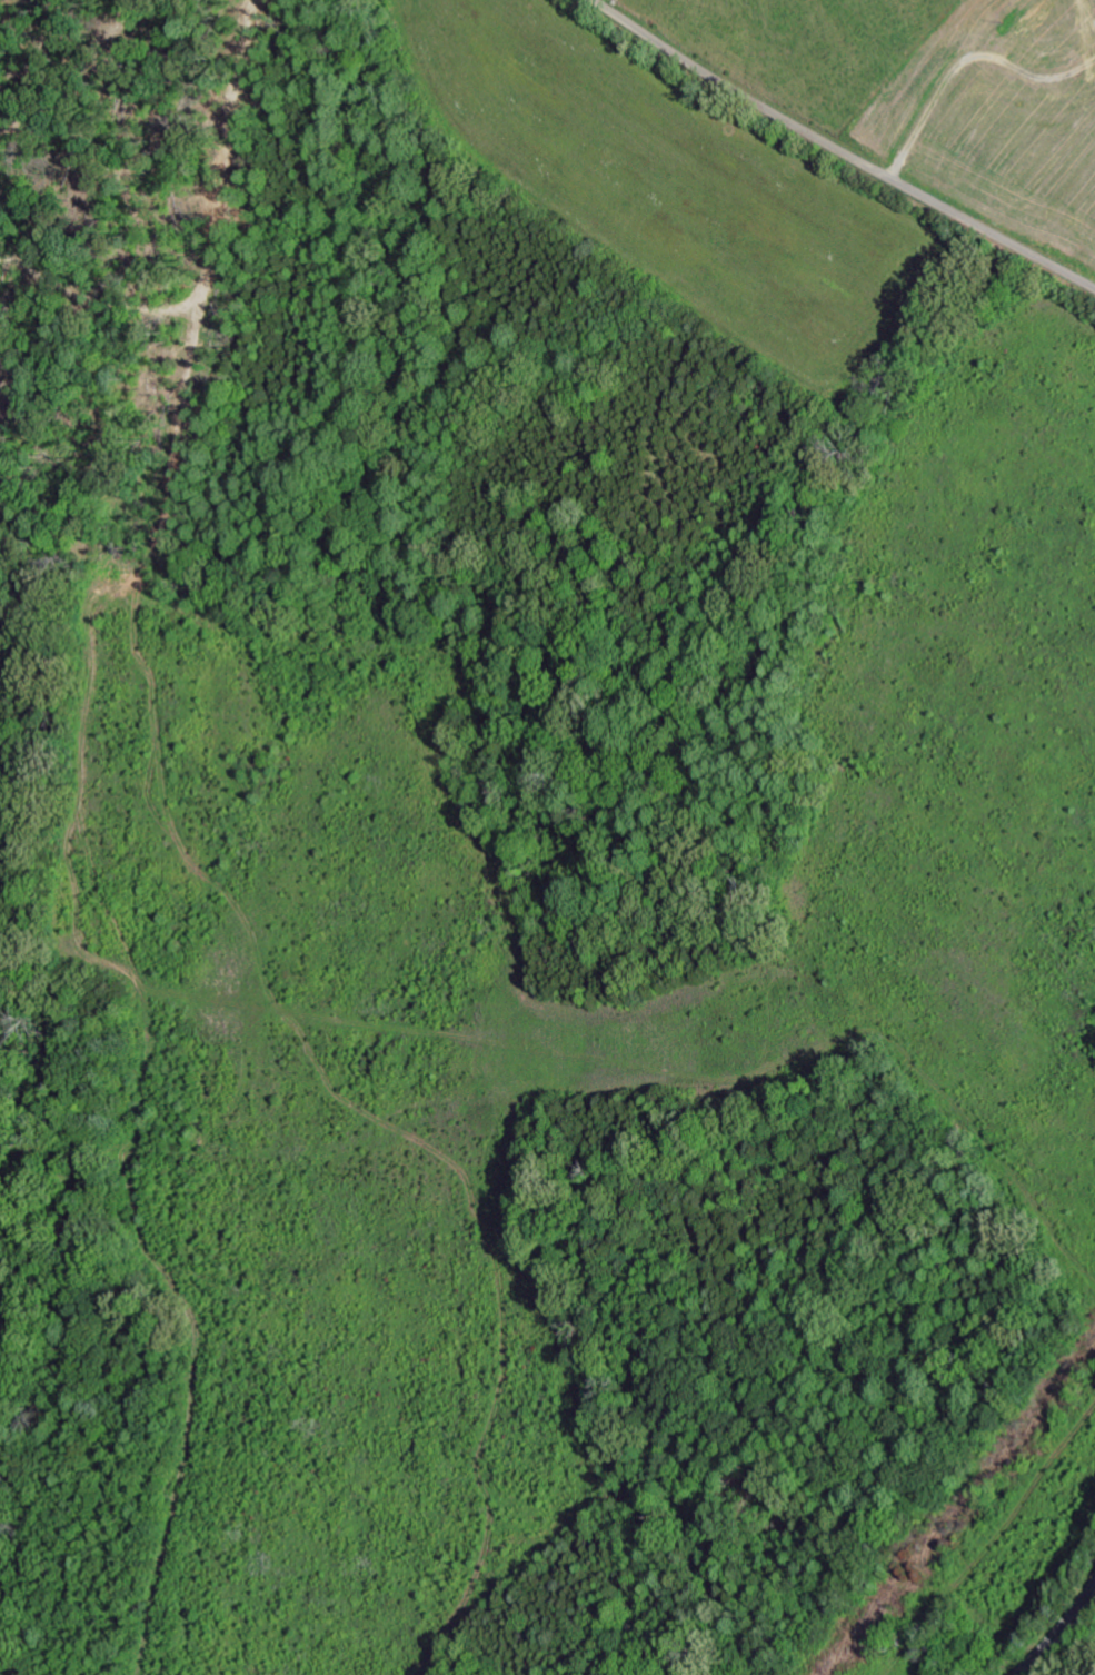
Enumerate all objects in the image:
road: (842, 150)
road: (1058, 1633)

